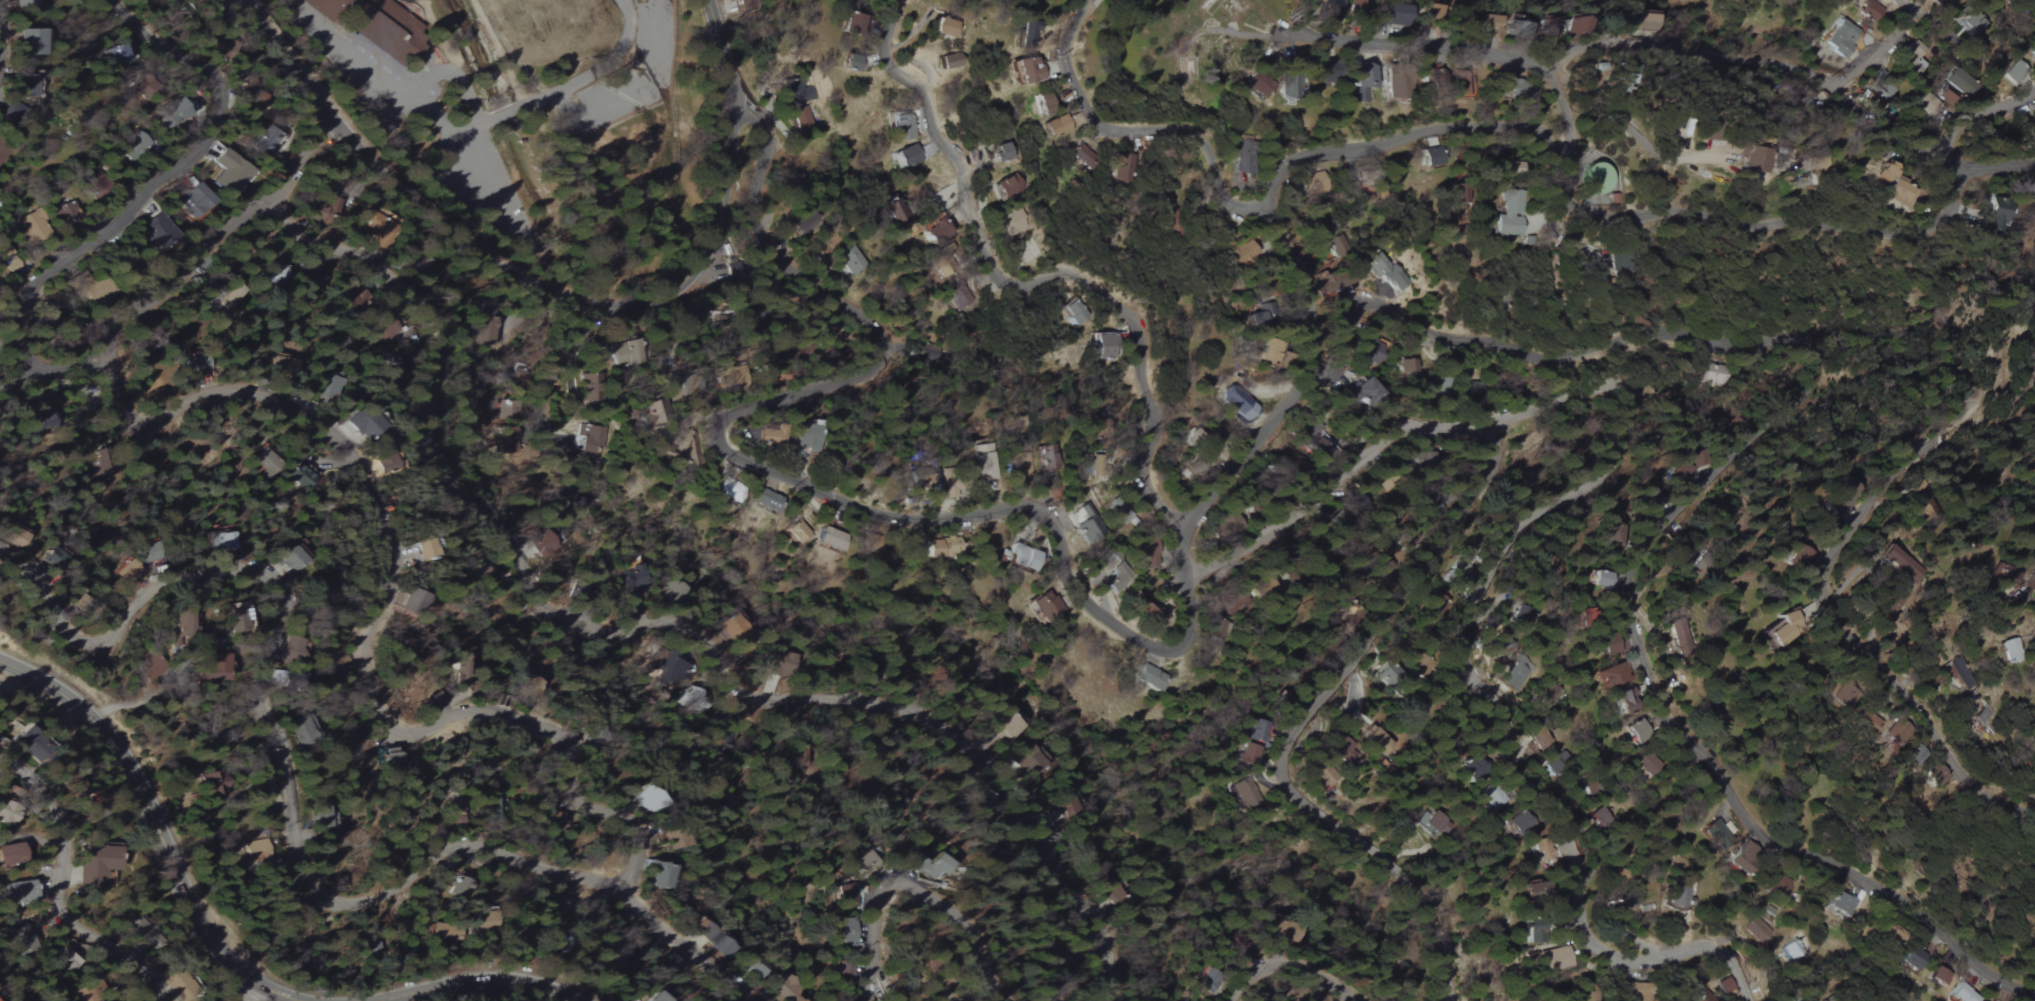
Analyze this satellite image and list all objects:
building: (1936, 1)
building: (24, 3)
building: (746, 4)
building: (1126, 4)
building: (1356, 9)
building: (1872, 11)
building: (1429, 12)
building: (1395, 16)
park: (537, 20)
building: (1644, 21)
building: (1972, 23)
building: (853, 24)
building: (1485, 24)
building: (378, 25)
building: (1516, 26)
building: (1575, 26)
building: (1028, 28)
building: (945, 29)
building: (1548, 29)
road: (212, 31)
building: (1843, 39)
road: (9, 40)
road: (1402, 40)
building: (31, 42)
building: (1916, 49)
road: (1883, 53)
building: (2033, 53)
building: (116, 55)
building: (949, 61)
building: (850, 63)
road: (1779, 64)
building: (1027, 71)
road: (458, 74)
building: (1362, 80)
building: (1961, 83)
road: (569, 85)
building: (1397, 85)
building: (30, 86)
building: (1257, 86)
road: (634, 87)
building: (1289, 87)
building: (1881, 89)
road: (396, 94)
building: (1044, 102)
building: (798, 103)
building: (1872, 104)
building: (1931, 105)
road: (2014, 106)
building: (16, 111)
building: (175, 112)
road: (1555, 115)
park: (536, 125)
building: (1056, 126)
road: (1623, 126)
building: (902, 127)
building: (2030, 127)
road: (1149, 133)
road: (1388, 145)
building: (1001, 152)
building: (2, 153)
building: (1243, 156)
building: (907, 157)
building: (1083, 157)
road: (456, 158)
building: (1432, 158)
road: (1948, 161)
road: (303, 162)
building: (1752, 163)
road: (1995, 167)
building: (1124, 168)
building: (230, 172)
building: (1240, 178)
building: (1597, 179)
water tower: (1593, 180)
road: (488, 182)
road: (163, 183)
building: (1008, 187)
building: (1890, 187)
building: (193, 201)
building: (335, 206)
building: (67, 211)
building: (1995, 215)
building: (892, 216)
building: (1511, 216)
road: (1751, 217)
building: (800, 225)
building: (38, 227)
building: (377, 228)
building: (935, 231)
building: (158, 232)
building: (1241, 255)
road: (1963, 256)
building: (846, 260)
building: (274, 273)
building: (1385, 273)
road: (184, 275)
road: (557, 284)
road: (1018, 288)
road: (556, 293)
building: (959, 303)
building: (1074, 312)
building: (1255, 315)
road: (1293, 318)
building: (382, 328)
road: (884, 338)
building: (1103, 346)
building: (1268, 351)
building: (631, 355)
building: (194, 365)
building: (1406, 365)
road: (53, 374)
building: (1708, 374)
road: (553, 381)
building: (1436, 386)
building: (588, 387)
building: (1362, 392)
building: (1232, 402)
building: (652, 409)
building: (364, 423)
building: (809, 437)
building: (588, 438)
building: (774, 438)
building: (684, 454)
building: (1047, 457)
road: (1242, 458)
building: (264, 462)
building: (385, 463)
building: (987, 464)
building: (99, 466)
building: (1677, 473)
building: (301, 475)
road: (1712, 478)
building: (729, 491)
building: (1841, 497)
building: (766, 501)
building: (1117, 510)
building: (1084, 524)
building: (798, 531)
road: (1527, 537)
building: (830, 539)
building: (226, 540)
building: (942, 547)
building: (425, 548)
road: (1064, 551)
building: (1146, 551)
building: (1022, 557)
building: (52, 558)
building: (291, 558)
building: (1798, 558)
building: (1899, 564)
building: (1460, 567)
building: (129, 572)
building: (2003, 574)
building: (632, 576)
building: (1118, 578)
building: (1601, 580)
building: (674, 591)
building: (414, 603)
building: (1146, 605)
building: (1040, 606)
building: (231, 617)
building: (1518, 618)
road: (664, 621)
building: (185, 623)
road: (1838, 623)
building: (735, 628)
building: (1784, 628)
building: (1681, 640)
building: (2011, 651)
building: (782, 662)
building: (216, 670)
building: (1515, 673)
building: (1610, 675)
building: (1958, 675)
building: (1389, 676)
building: (1147, 678)
building: (1846, 696)
road: (147, 697)
building: (1549, 697)
building: (693, 700)
building: (435, 701)
road: (386, 715)
building: (1983, 715)
road: (273, 718)
road: (1298, 719)
building: (1871, 721)
building: (1005, 725)
building: (6, 732)
building: (305, 732)
building: (1257, 732)
building: (1634, 732)
building: (1897, 733)
building: (1370, 740)
building: (30, 744)
building: (1337, 751)
building: (1247, 755)
building: (390, 756)
building: (1030, 760)
building: (1646, 765)
building: (1552, 766)
building: (1471, 768)
building: (212, 783)
building: (1244, 793)
building: (1491, 797)
building: (644, 800)
building: (1061, 805)
building: (453, 813)
building: (6, 817)
building: (1598, 818)
building: (1431, 822)
building: (1518, 824)
road: (158, 831)
building: (1716, 834)
building: (257, 851)
building: (1542, 853)
building: (10, 854)
building: (912, 862)
building: (95, 865)
building: (1741, 865)
building: (935, 867)
building: (661, 876)
building: (460, 885)
building: (1779, 886)
road: (924, 888)
road: (57, 889)
building: (1538, 890)
building: (17, 892)
building: (1681, 894)
building: (845, 896)
building: (1113, 896)
building: (1842, 904)
building: (1757, 930)
building: (1286, 931)
building: (443, 932)
building: (846, 933)
building: (1534, 933)
building: (22, 939)
building: (712, 940)
building: (555, 941)
building: (1792, 949)
building: (1555, 959)
building: (1912, 959)
building: (64, 961)
road: (1284, 965)
building: (751, 969)
building: (1939, 976)
road: (484, 978)
building: (845, 980)
building: (1209, 981)
building: (1726, 986)
building: (1640, 988)
road: (251, 993)
building: (1963, 994)
building: (654, 997)

